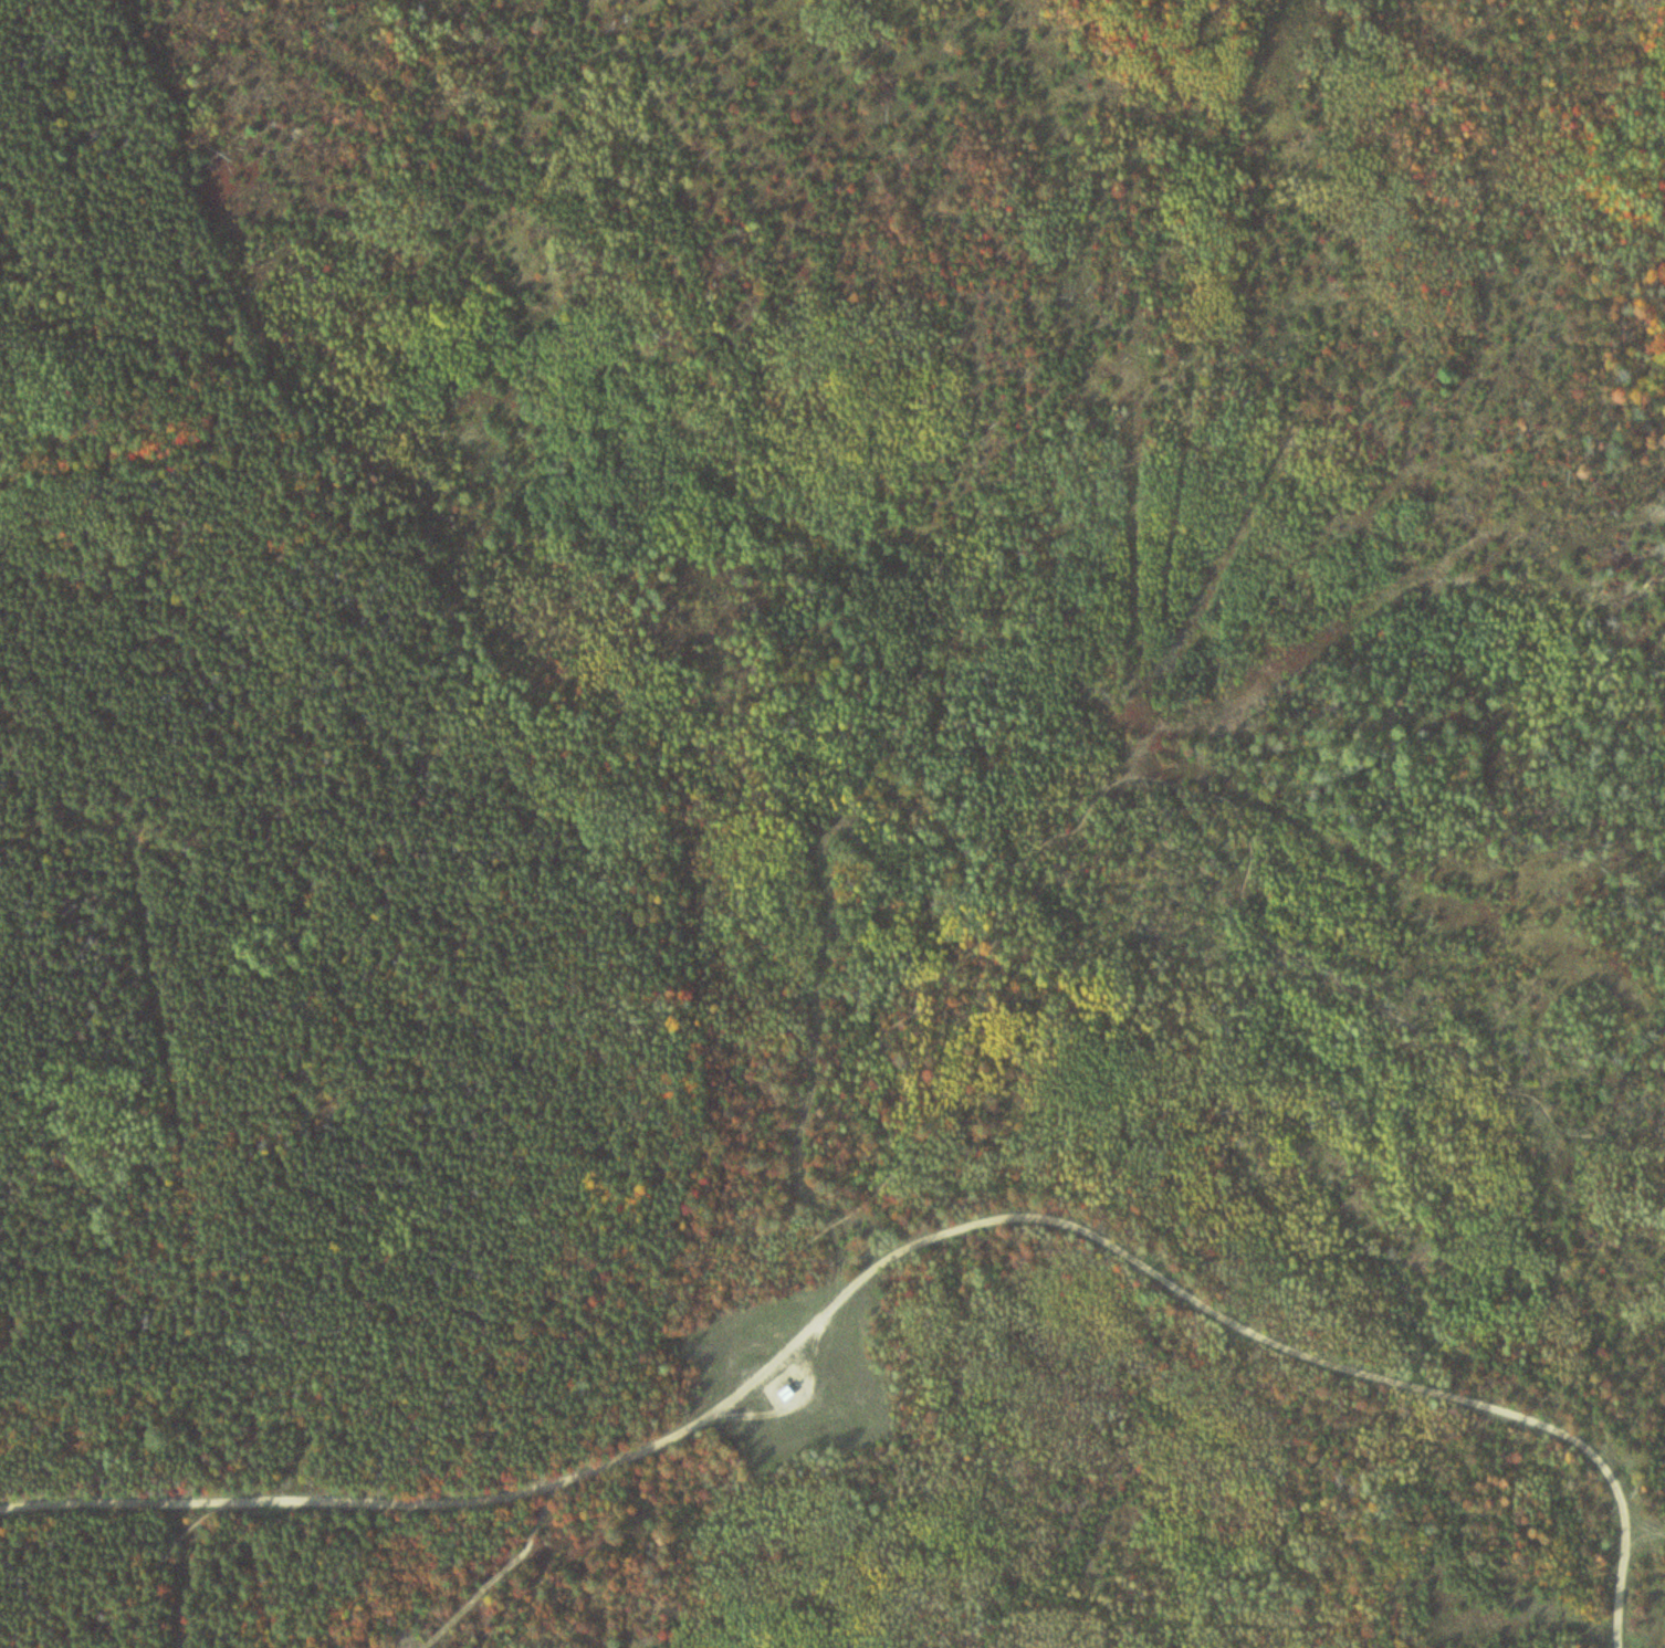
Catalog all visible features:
road: (913, 1061)
road: (901, 1257)
petroleum well: (782, 1389)
road: (496, 1579)

